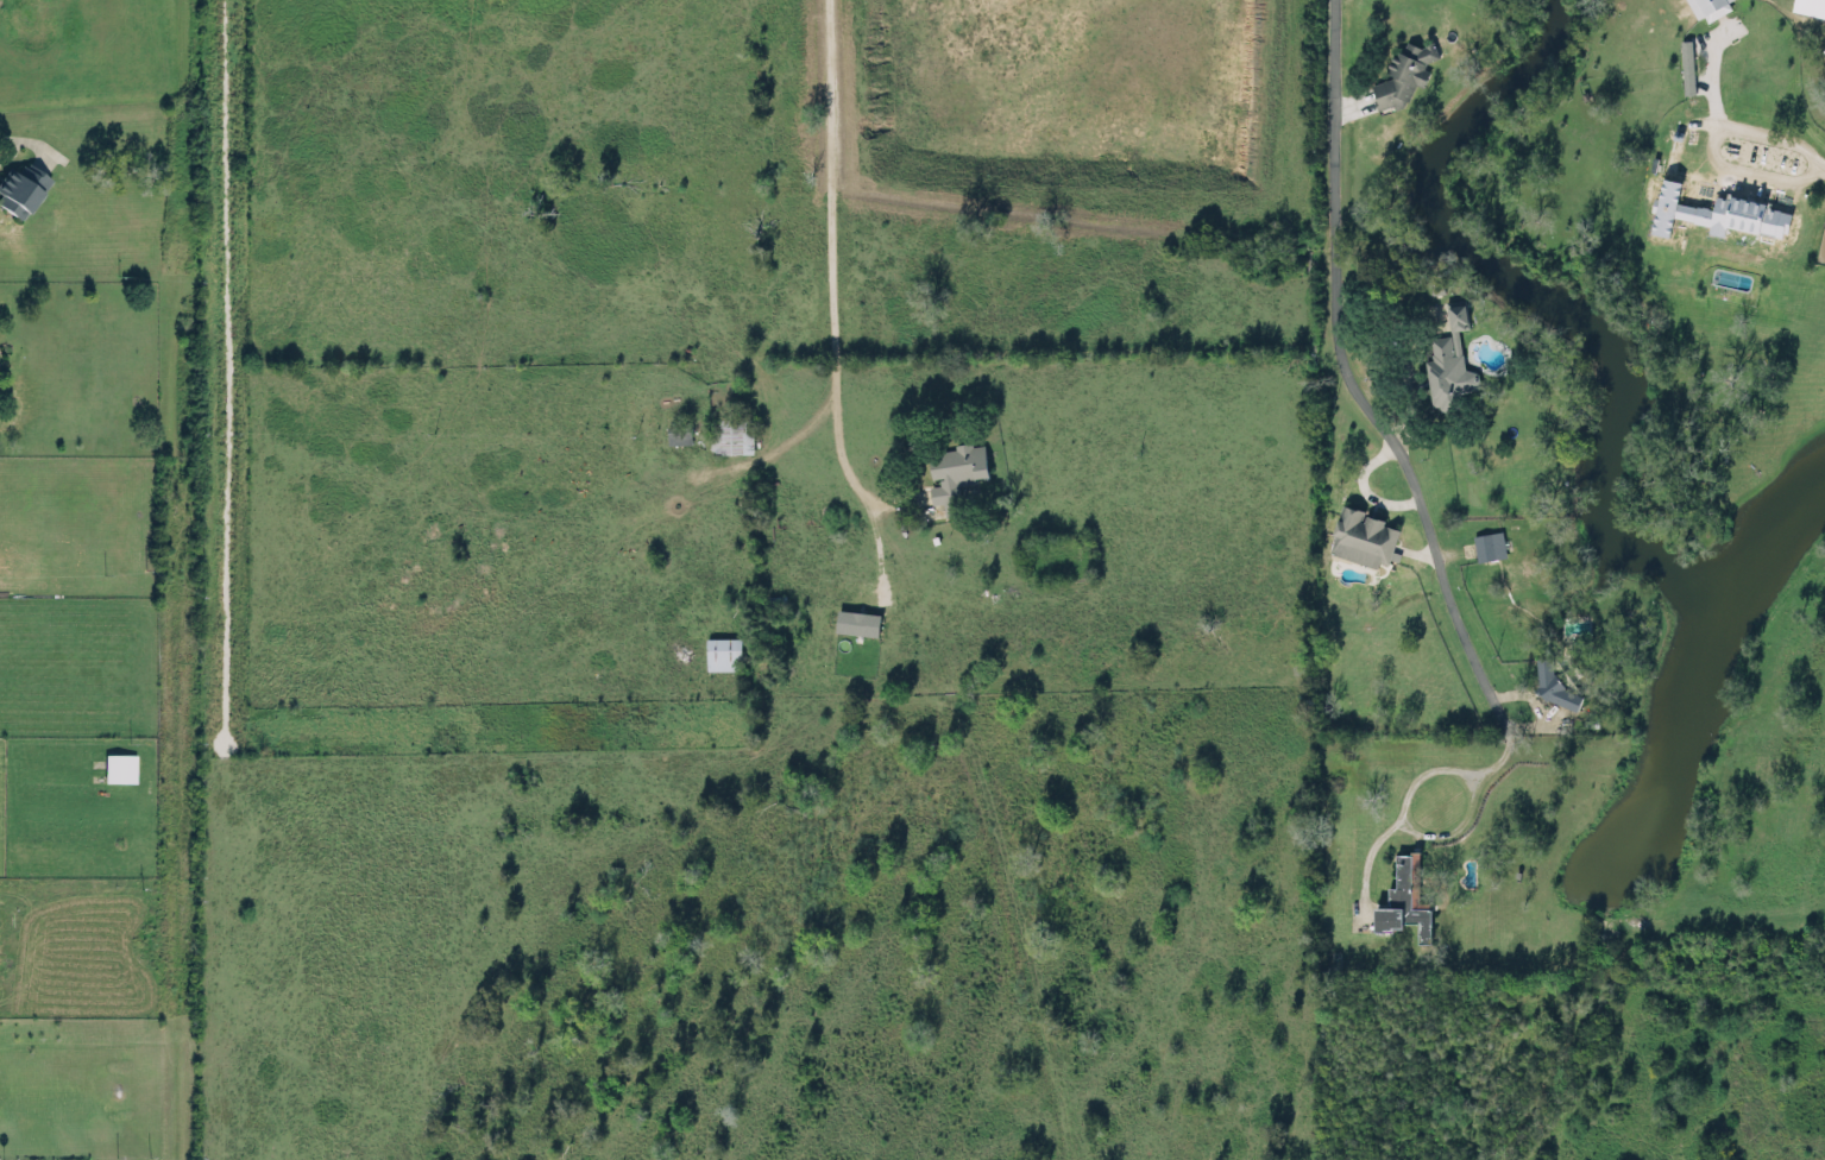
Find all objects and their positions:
building: (1710, 7)
building: (1810, 7)
building: (1687, 64)
building: (1403, 72)
road: (1712, 124)
road: (25, 139)
road: (1819, 166)
building: (20, 188)
building: (1731, 222)
road: (838, 319)
building: (1449, 359)
road: (1351, 383)
building: (679, 431)
building: (731, 434)
building: (955, 472)
building: (1363, 535)
building: (1489, 543)
building: (857, 620)
building: (723, 652)
building: (1554, 683)
building: (120, 767)
road: (1441, 767)
road: (977, 770)
building: (1406, 893)

